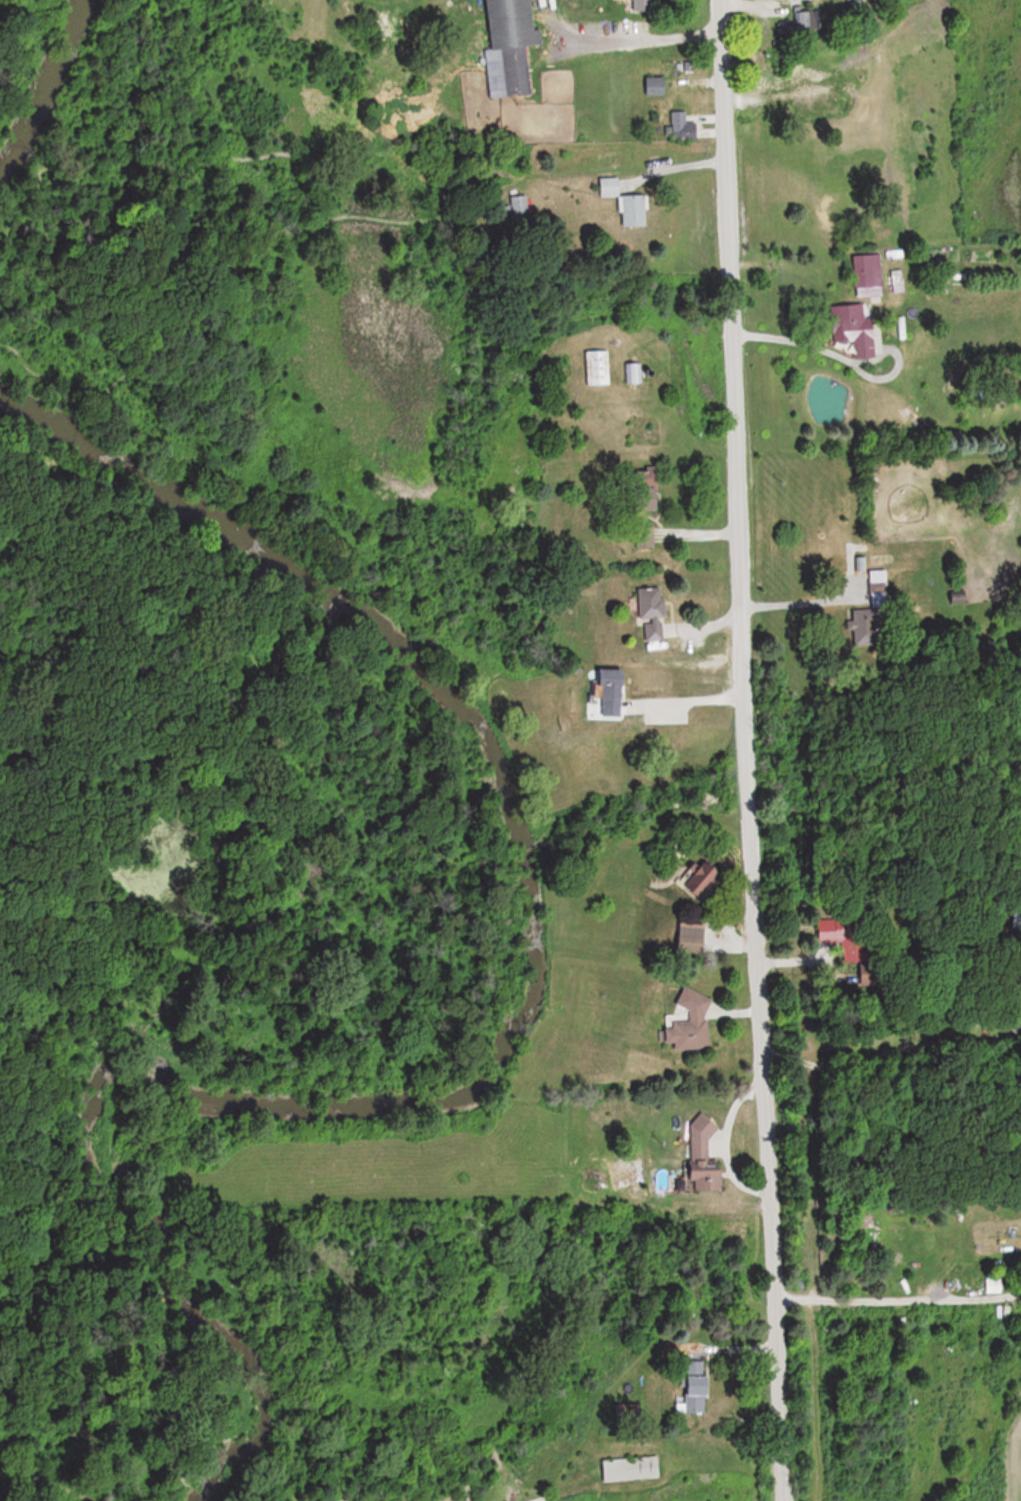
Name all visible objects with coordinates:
building: (802, 0)
building: (643, 5)
road: (627, 40)
building: (510, 46)
building: (655, 86)
building: (683, 127)
building: (608, 187)
building: (633, 210)
building: (867, 275)
building: (854, 330)
road: (825, 349)
building: (597, 368)
building: (632, 374)
building: (653, 614)
building: (861, 626)
building: (613, 693)
road: (685, 699)
road: (739, 751)
building: (696, 875)
building: (1010, 918)
building: (832, 928)
building: (692, 937)
building: (690, 1025)
building: (702, 1159)
building: (628, 1173)
road: (881, 1293)
building: (695, 1395)
building: (626, 1415)
building: (630, 1468)
road: (525, 1497)

